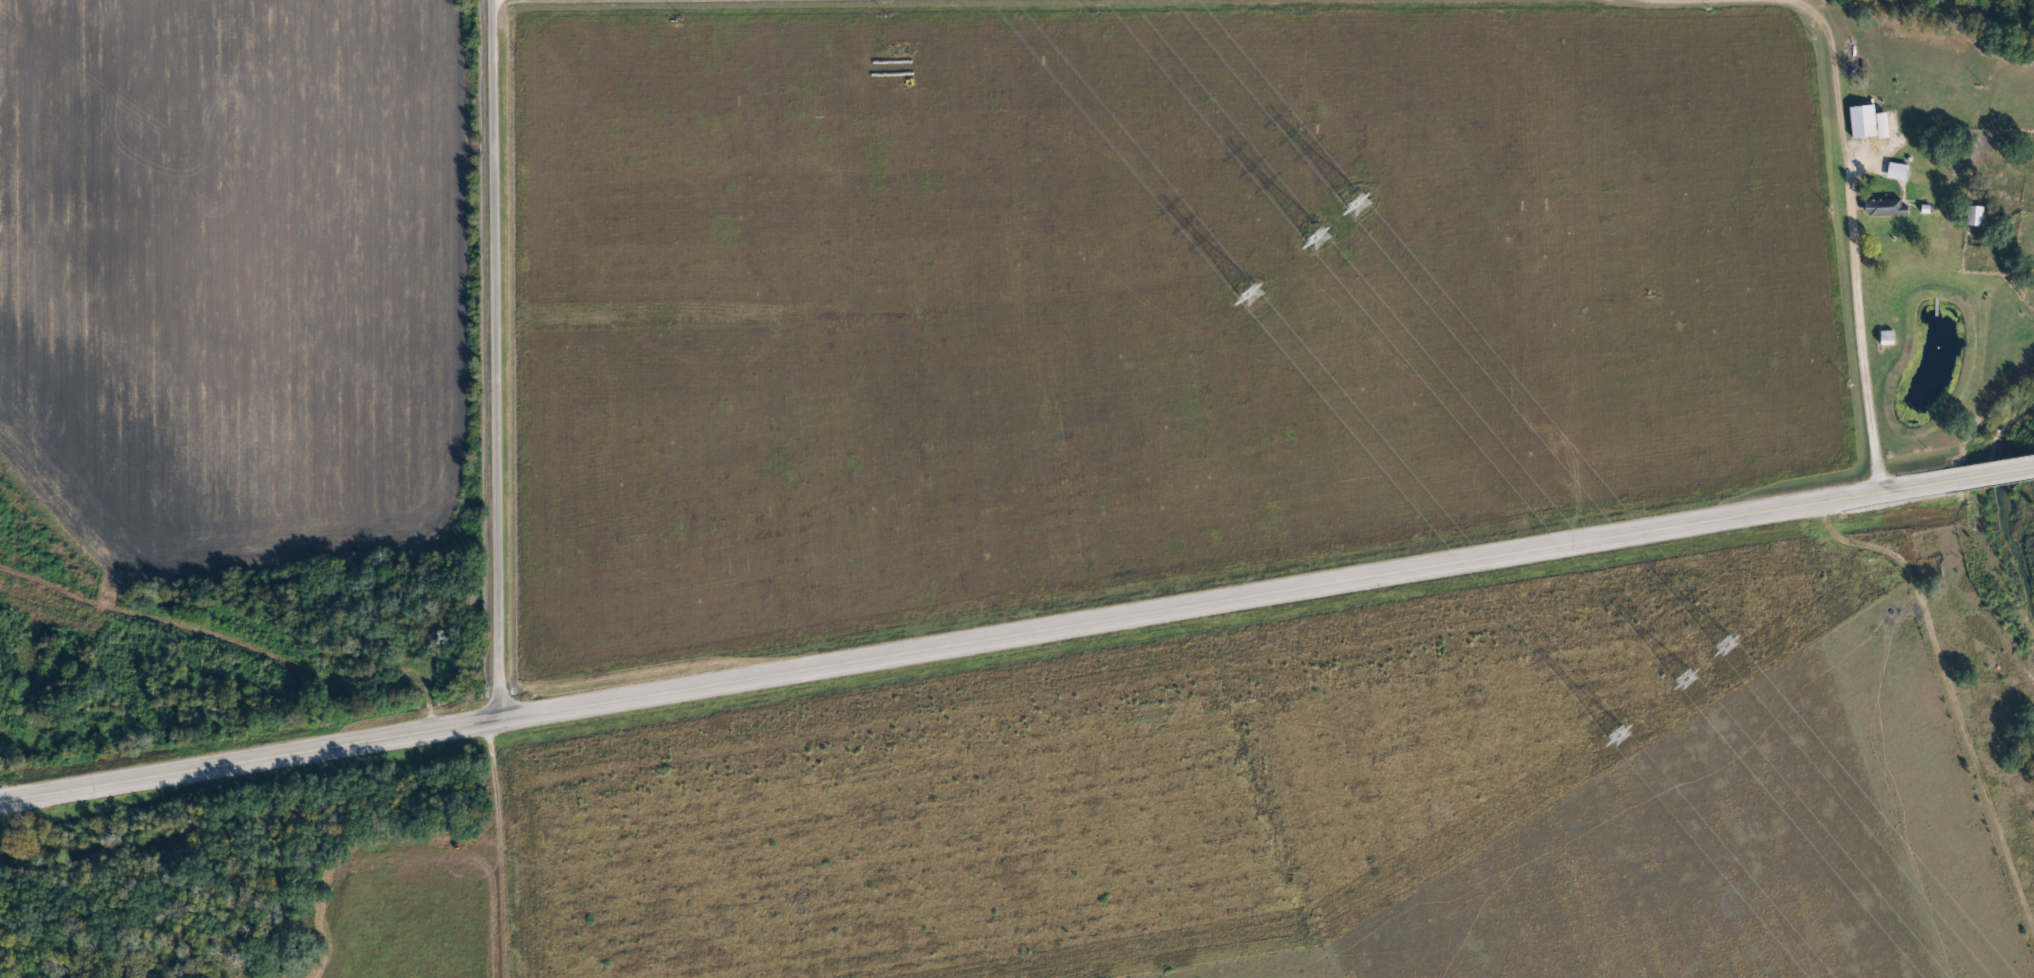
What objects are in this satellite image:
road: (525, 6)
building: (1865, 123)
building: (1895, 172)
power tower: (1360, 204)
building: (1882, 208)
building: (1973, 217)
power tower: (1316, 239)
road: (1860, 256)
power tower: (1250, 296)
road: (500, 355)
river: (2000, 512)
road: (1016, 626)
power tower: (1727, 647)
power tower: (1684, 680)
railway: (1017, 689)
power tower: (1620, 734)

